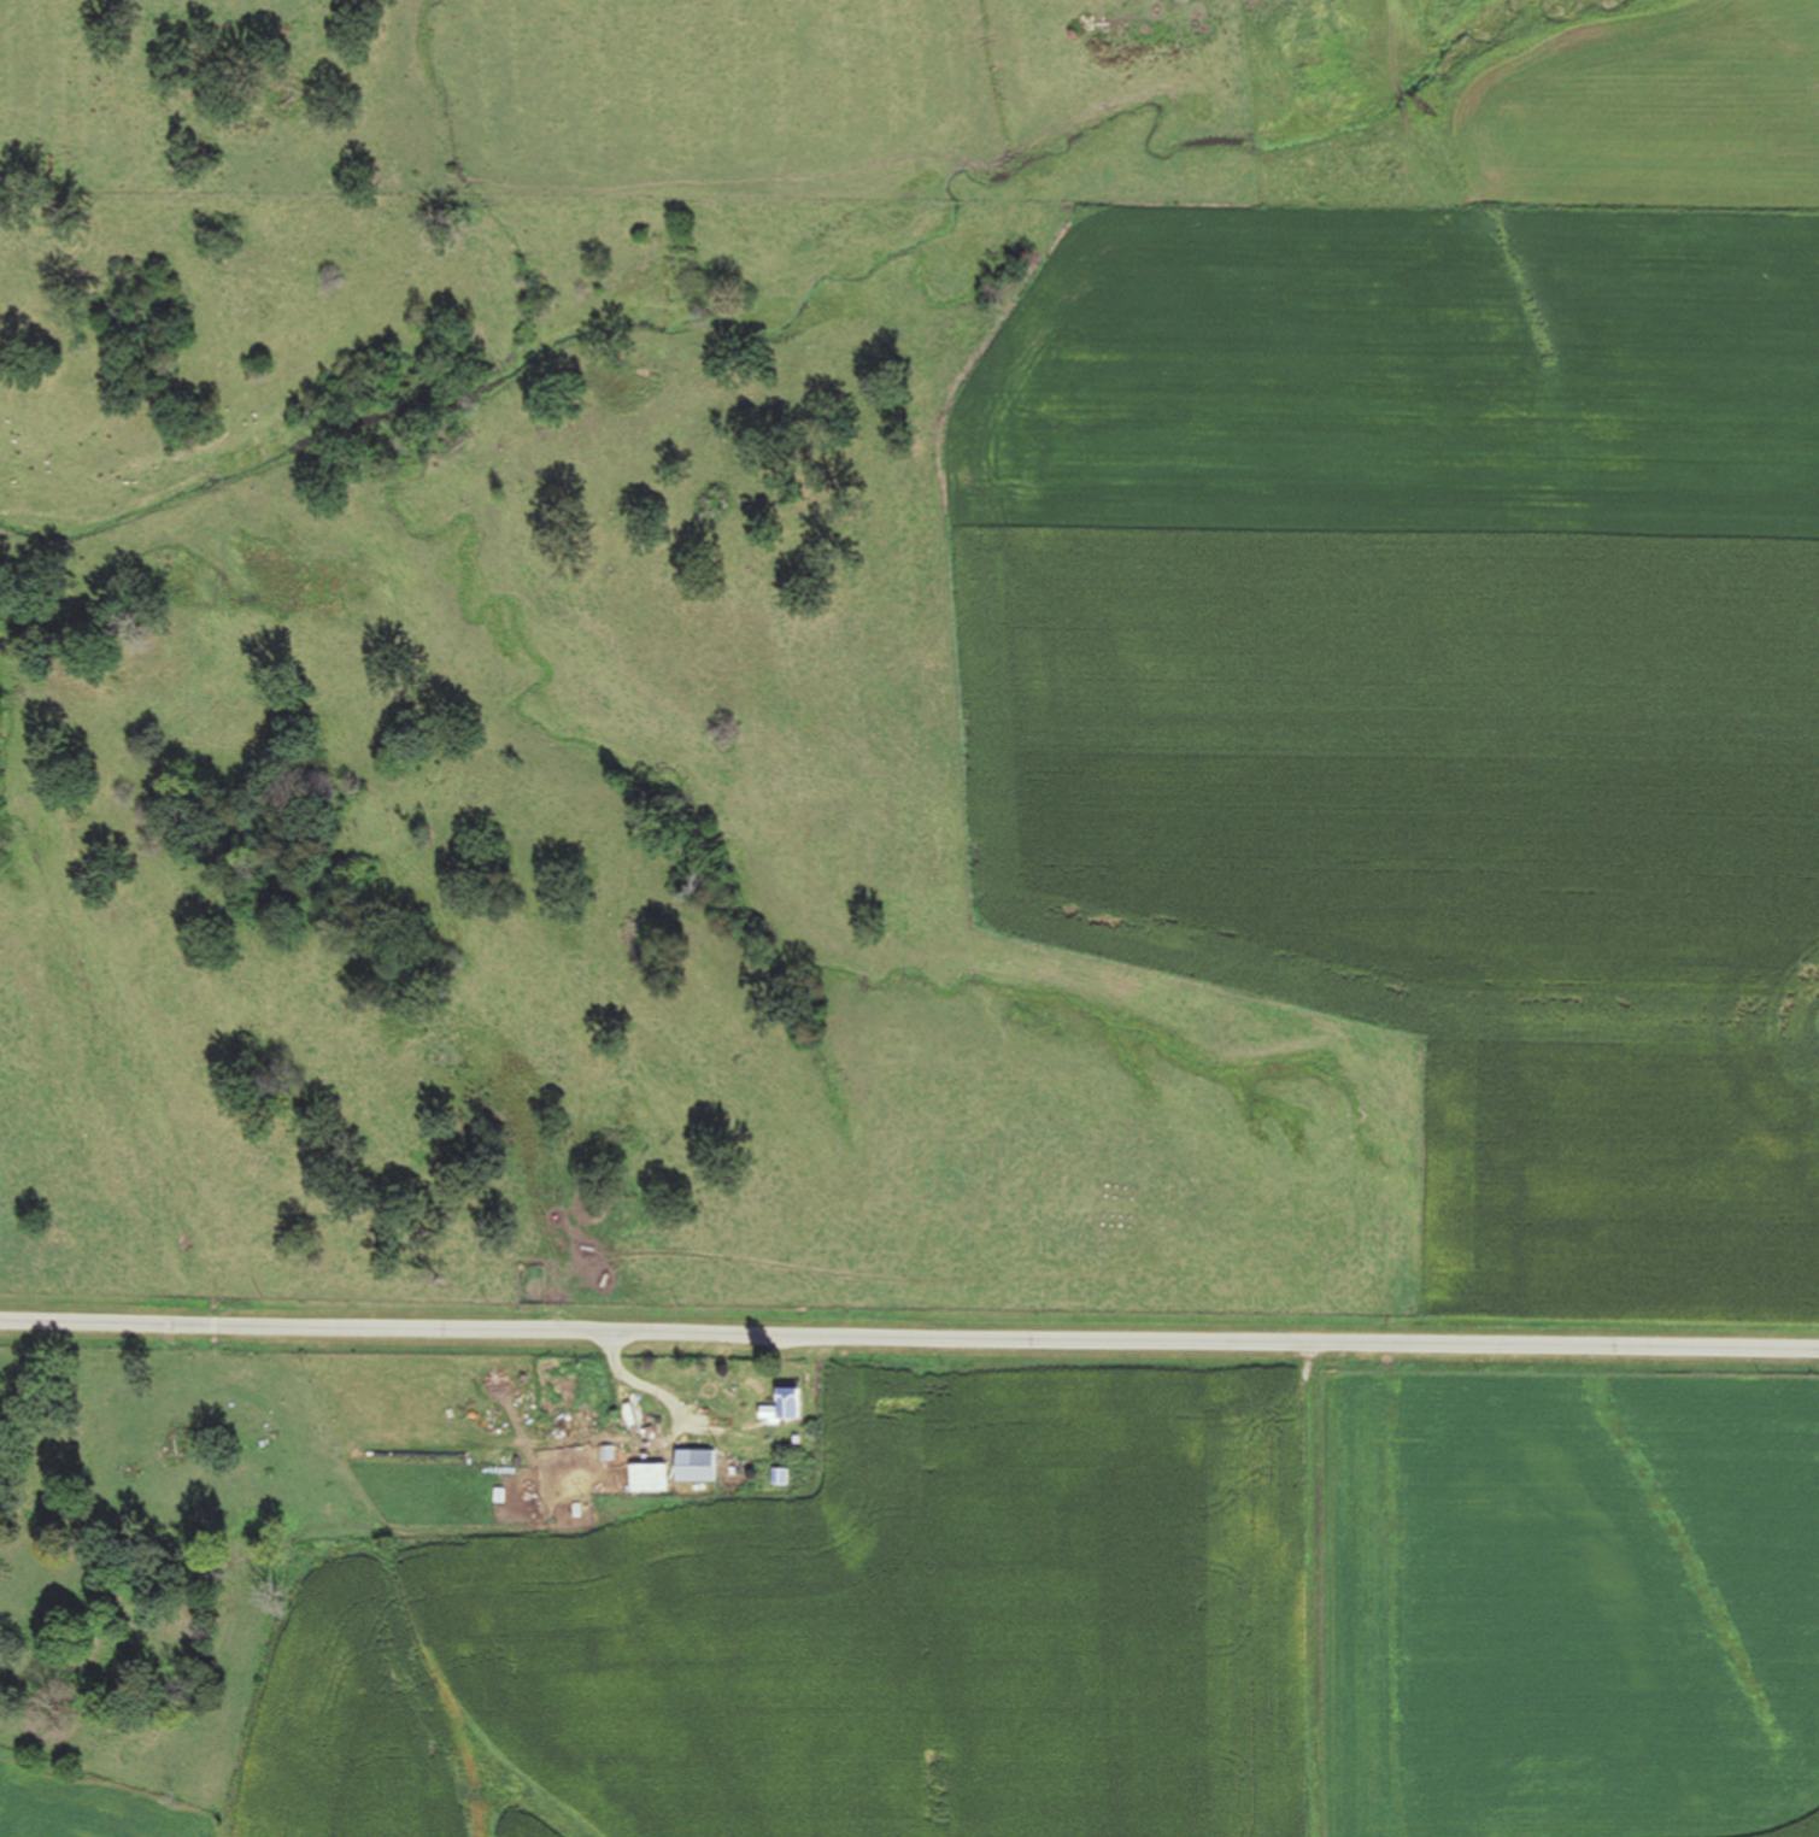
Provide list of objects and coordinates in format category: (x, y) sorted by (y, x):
road: (909, 1333)
building: (784, 1404)
building: (692, 1467)
building: (645, 1479)

